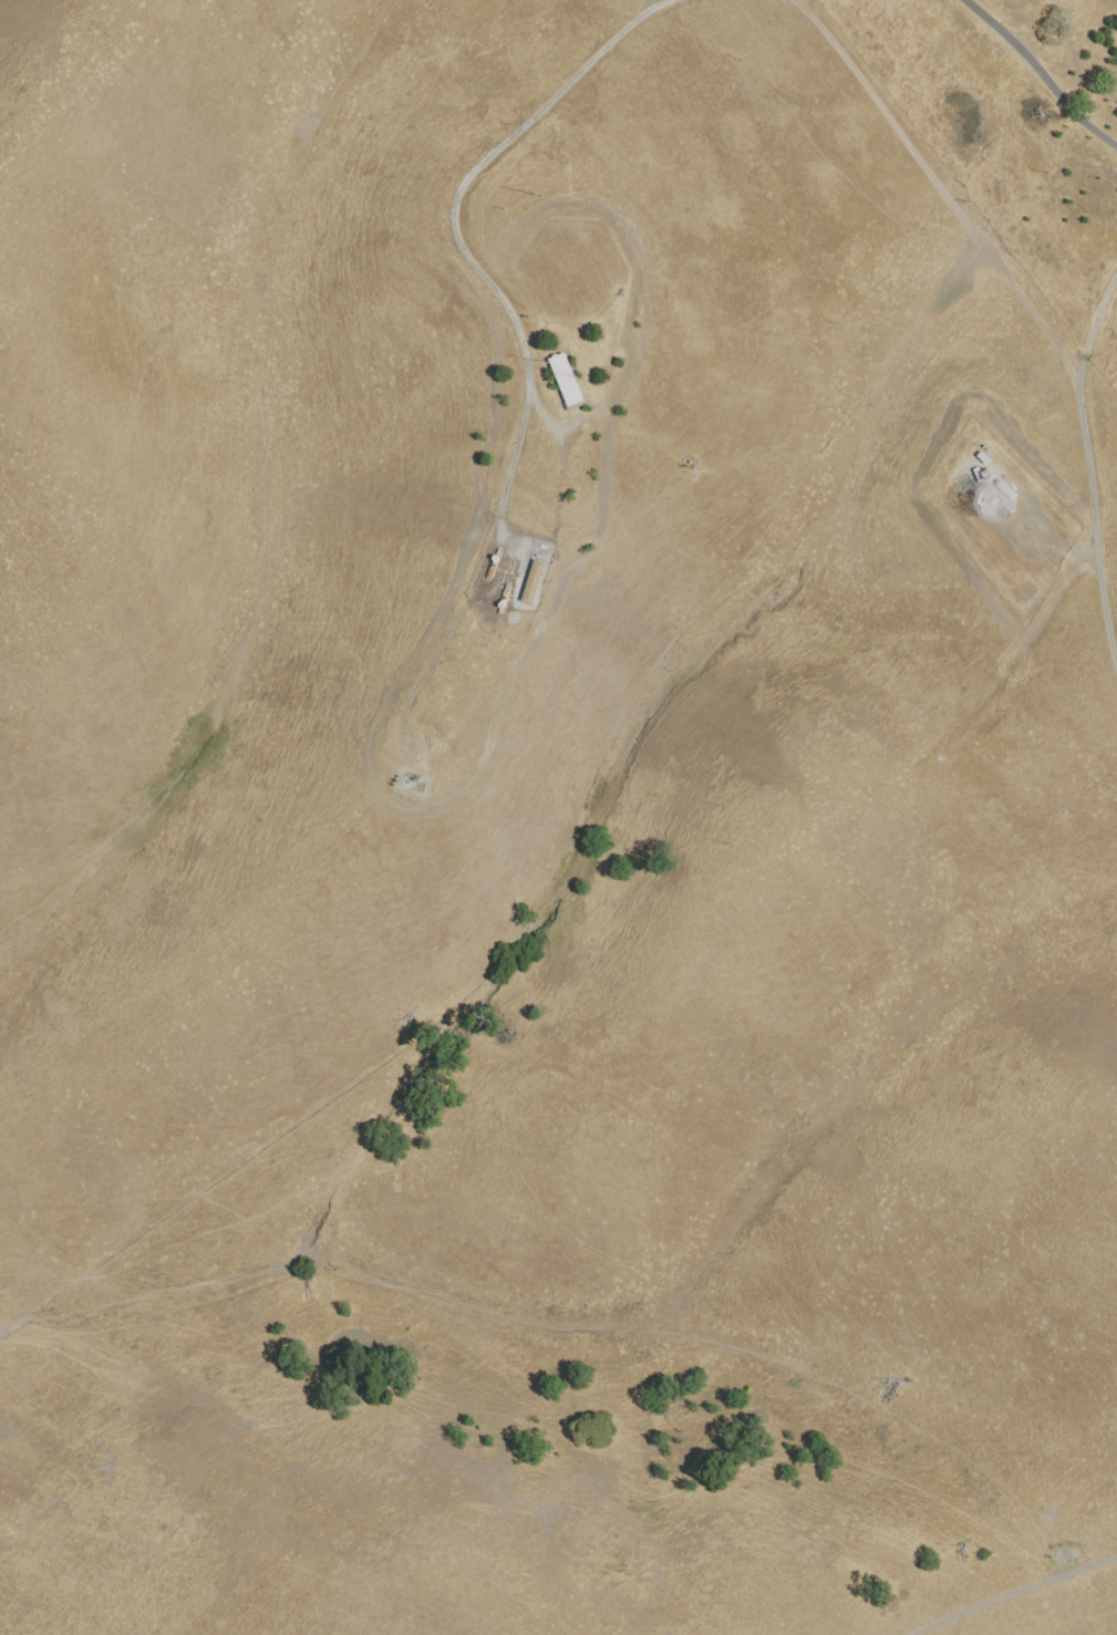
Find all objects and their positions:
road: (1041, 72)
road: (947, 189)
road: (457, 230)
building: (567, 379)
building: (984, 461)
road: (1090, 470)
building: (1007, 493)
building: (1010, 509)
road: (1072, 555)
building: (534, 583)
road: (1017, 1593)

